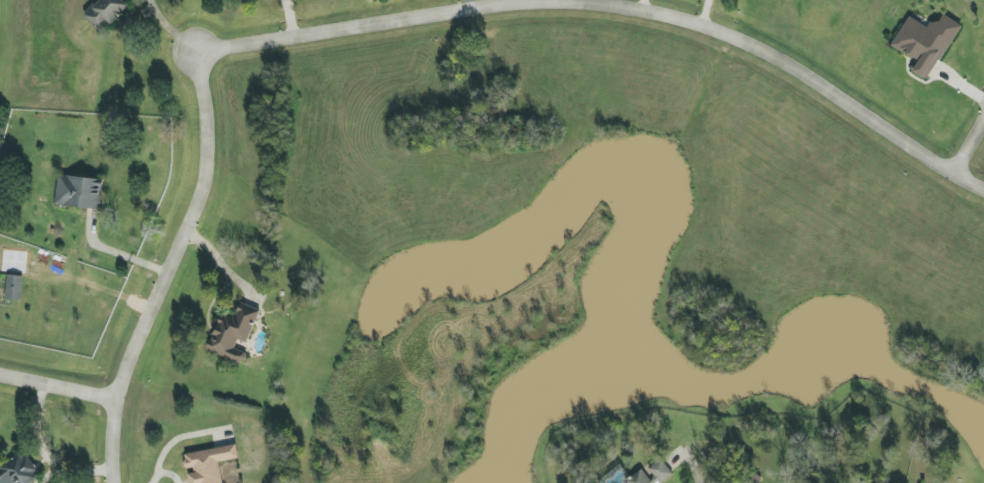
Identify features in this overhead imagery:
road: (469, 4)
road: (610, 5)
road: (640, 5)
road: (703, 12)
building: (105, 13)
road: (167, 28)
building: (925, 44)
road: (968, 143)
building: (78, 191)
road: (114, 253)
road: (221, 262)
road: (166, 267)
building: (13, 283)
building: (232, 333)
road: (57, 387)
road: (173, 439)
road: (46, 454)
building: (207, 463)
building: (18, 472)
road: (164, 472)
building: (651, 474)
road: (695, 474)

